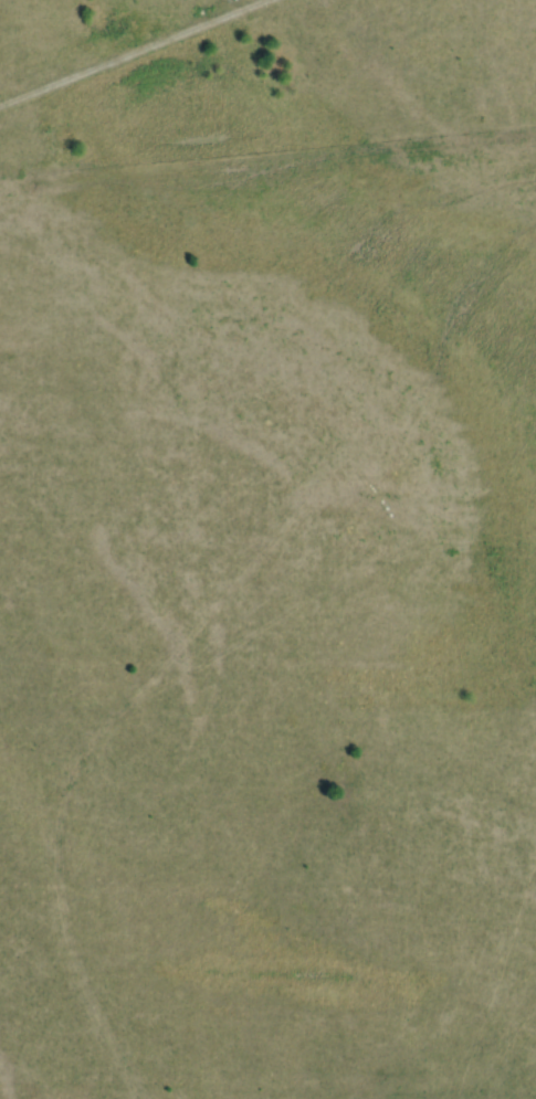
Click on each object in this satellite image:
road: (137, 53)

